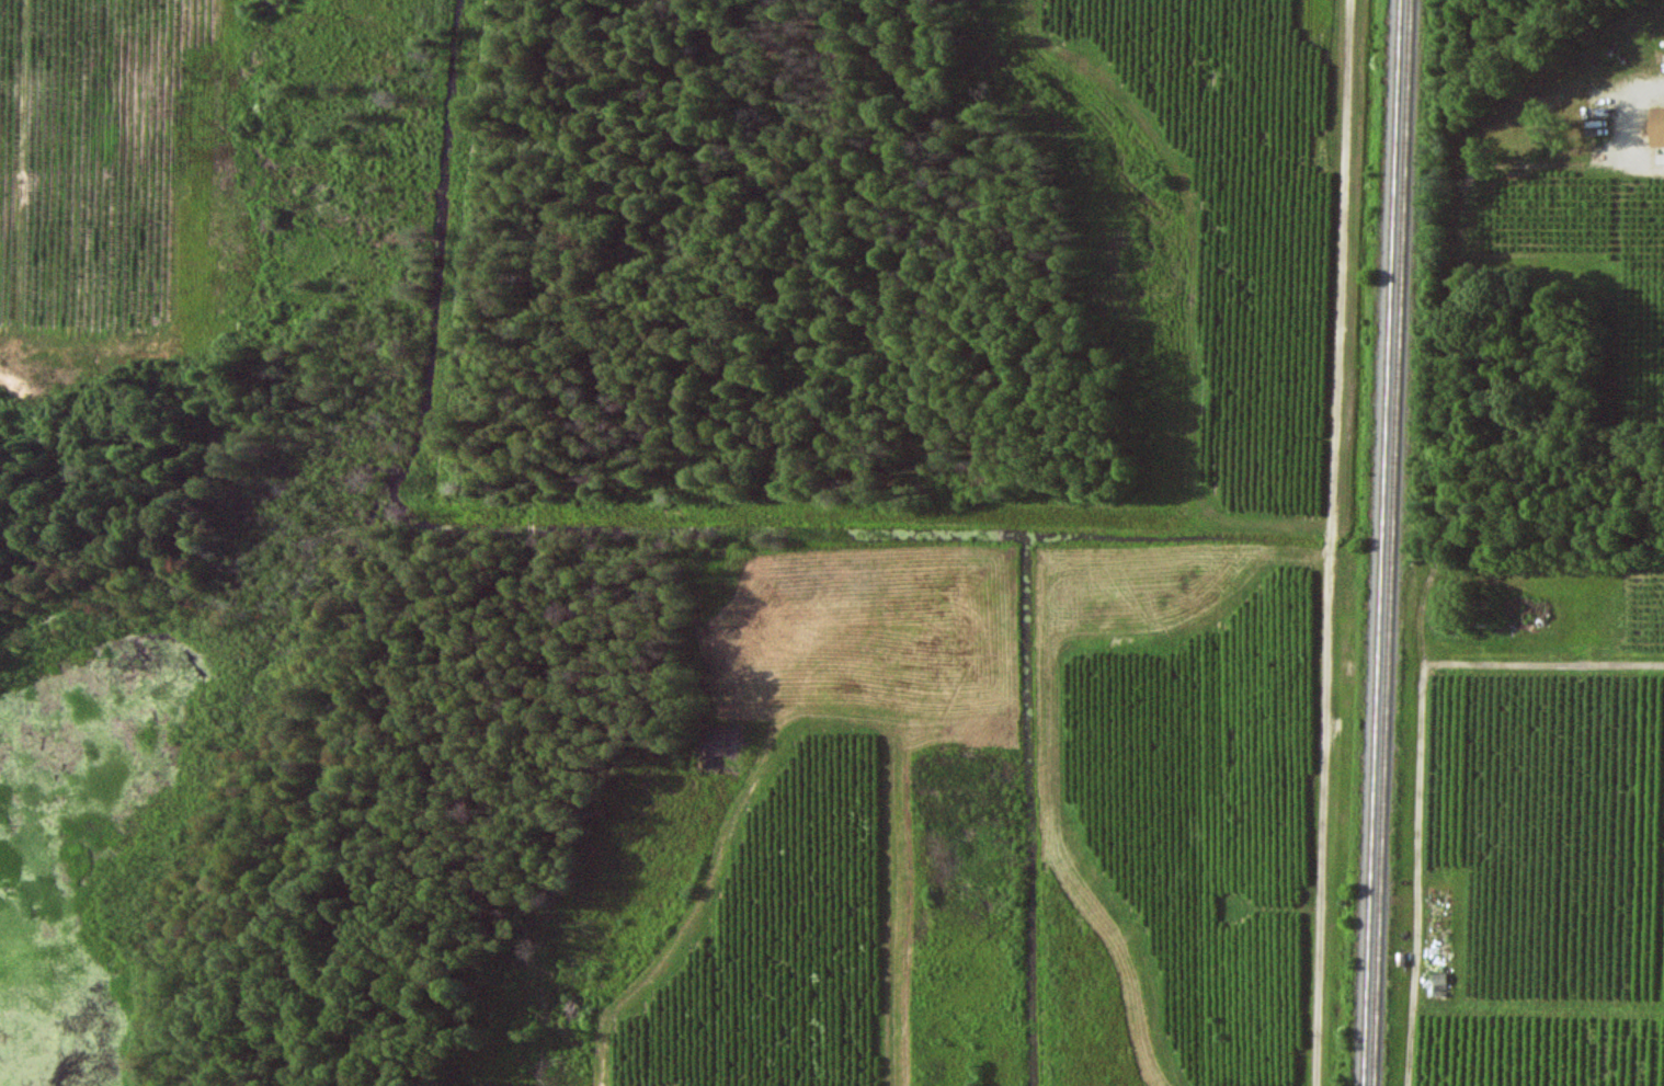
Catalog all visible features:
building: (1656, 126)
railway: (1388, 542)
railway: (1398, 542)

